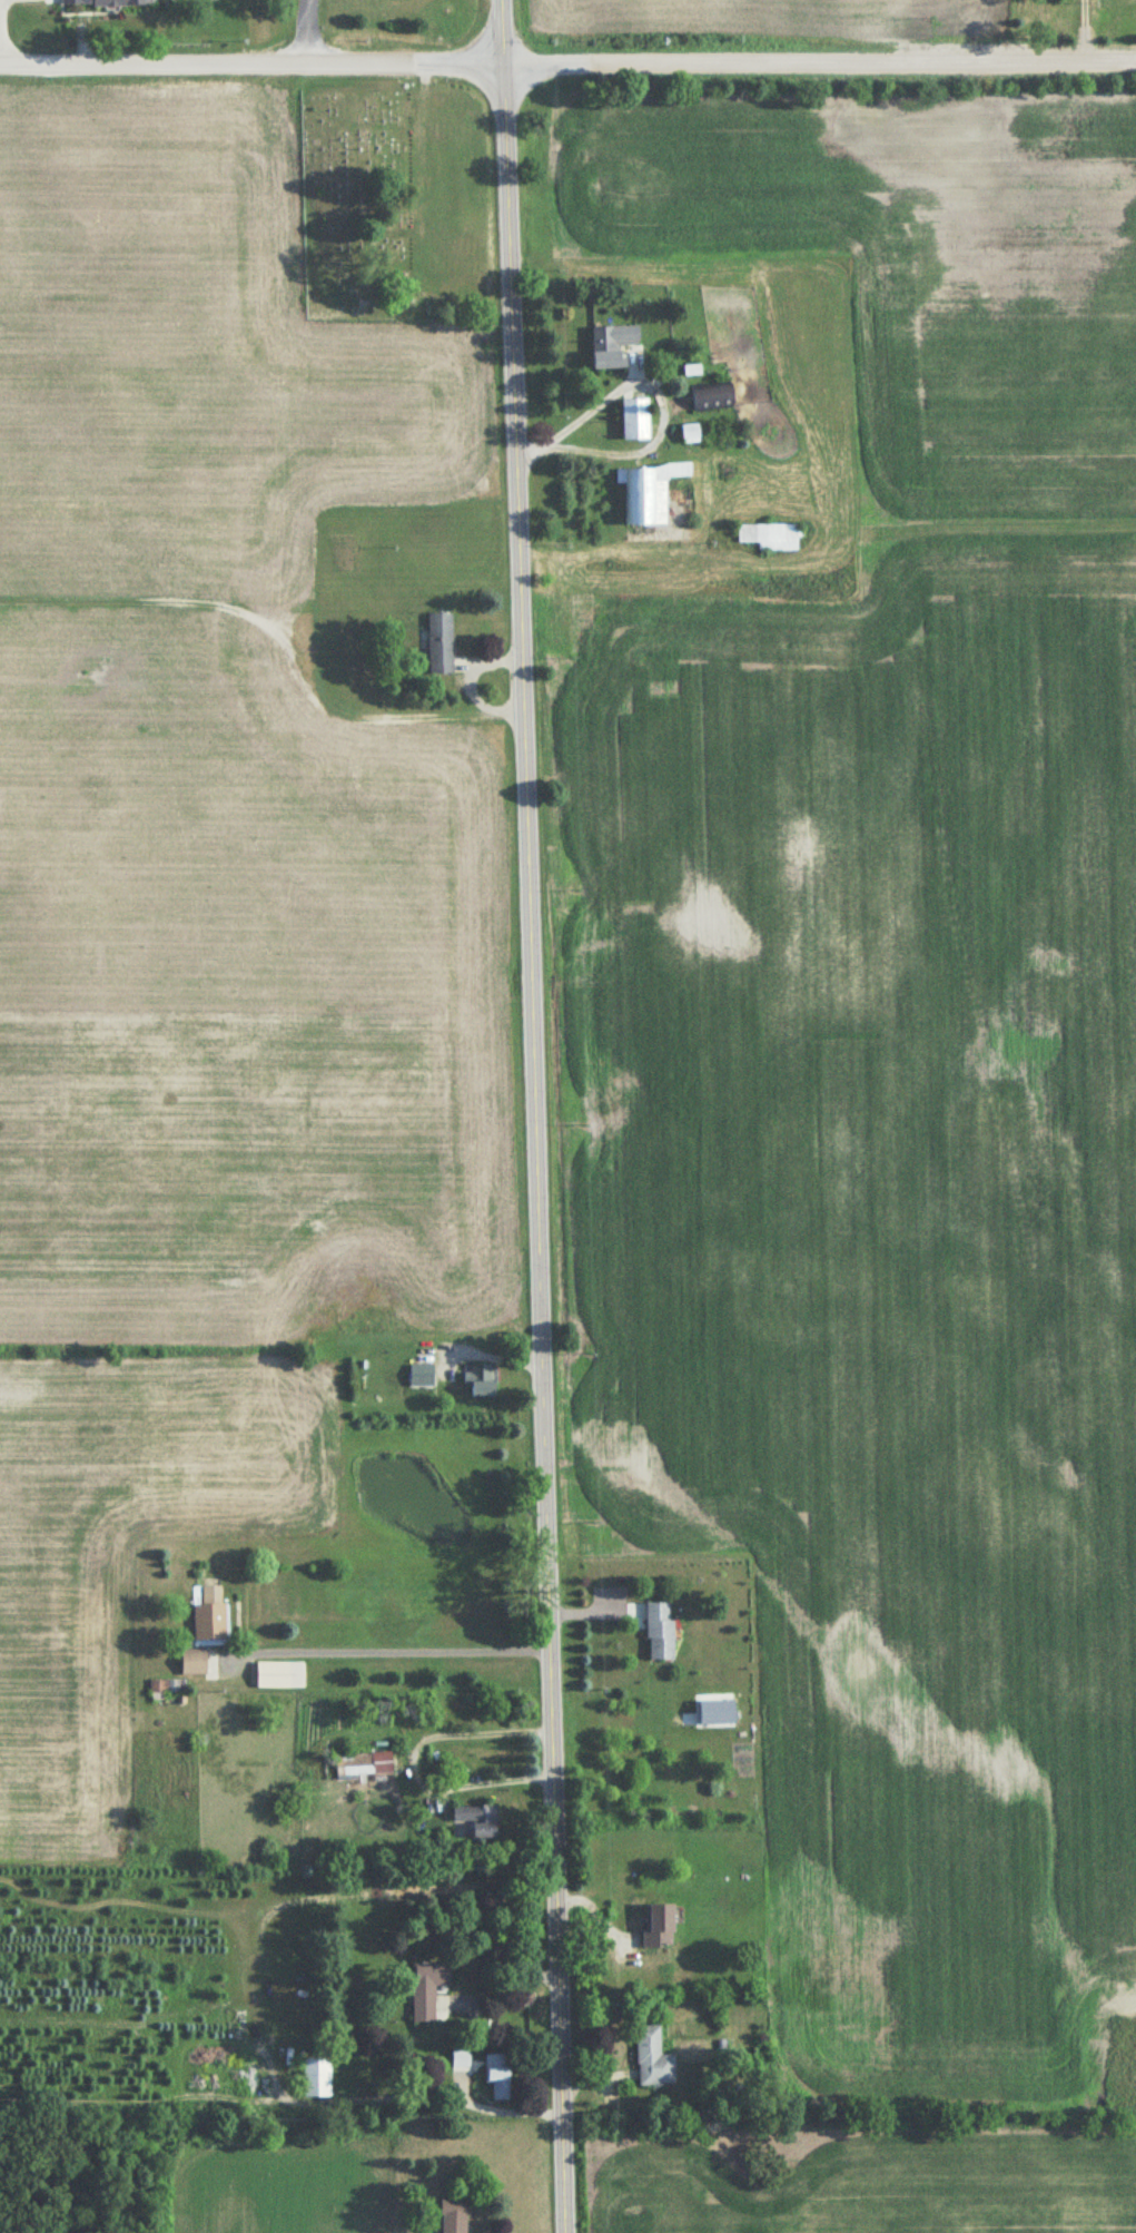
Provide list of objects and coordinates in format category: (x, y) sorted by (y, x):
building: (102, 3)
road: (1086, 28)
road: (308, 33)
road: (567, 63)
park: (349, 198)
building: (611, 346)
road: (648, 390)
building: (712, 399)
building: (633, 421)
building: (689, 435)
building: (648, 493)
building: (770, 538)
building: (441, 645)
road: (527, 1116)
building: (423, 1375)
building: (481, 1380)
building: (210, 1623)
building: (660, 1633)
road: (393, 1649)
building: (194, 1663)
building: (279, 1676)
building: (158, 1689)
road: (413, 1760)
building: (364, 1765)
building: (477, 1820)
building: (658, 1927)
road: (501, 1985)
building: (426, 1989)
building: (652, 2060)
building: (316, 2078)
building: (497, 2079)
road: (441, 2094)
building: (453, 2217)

